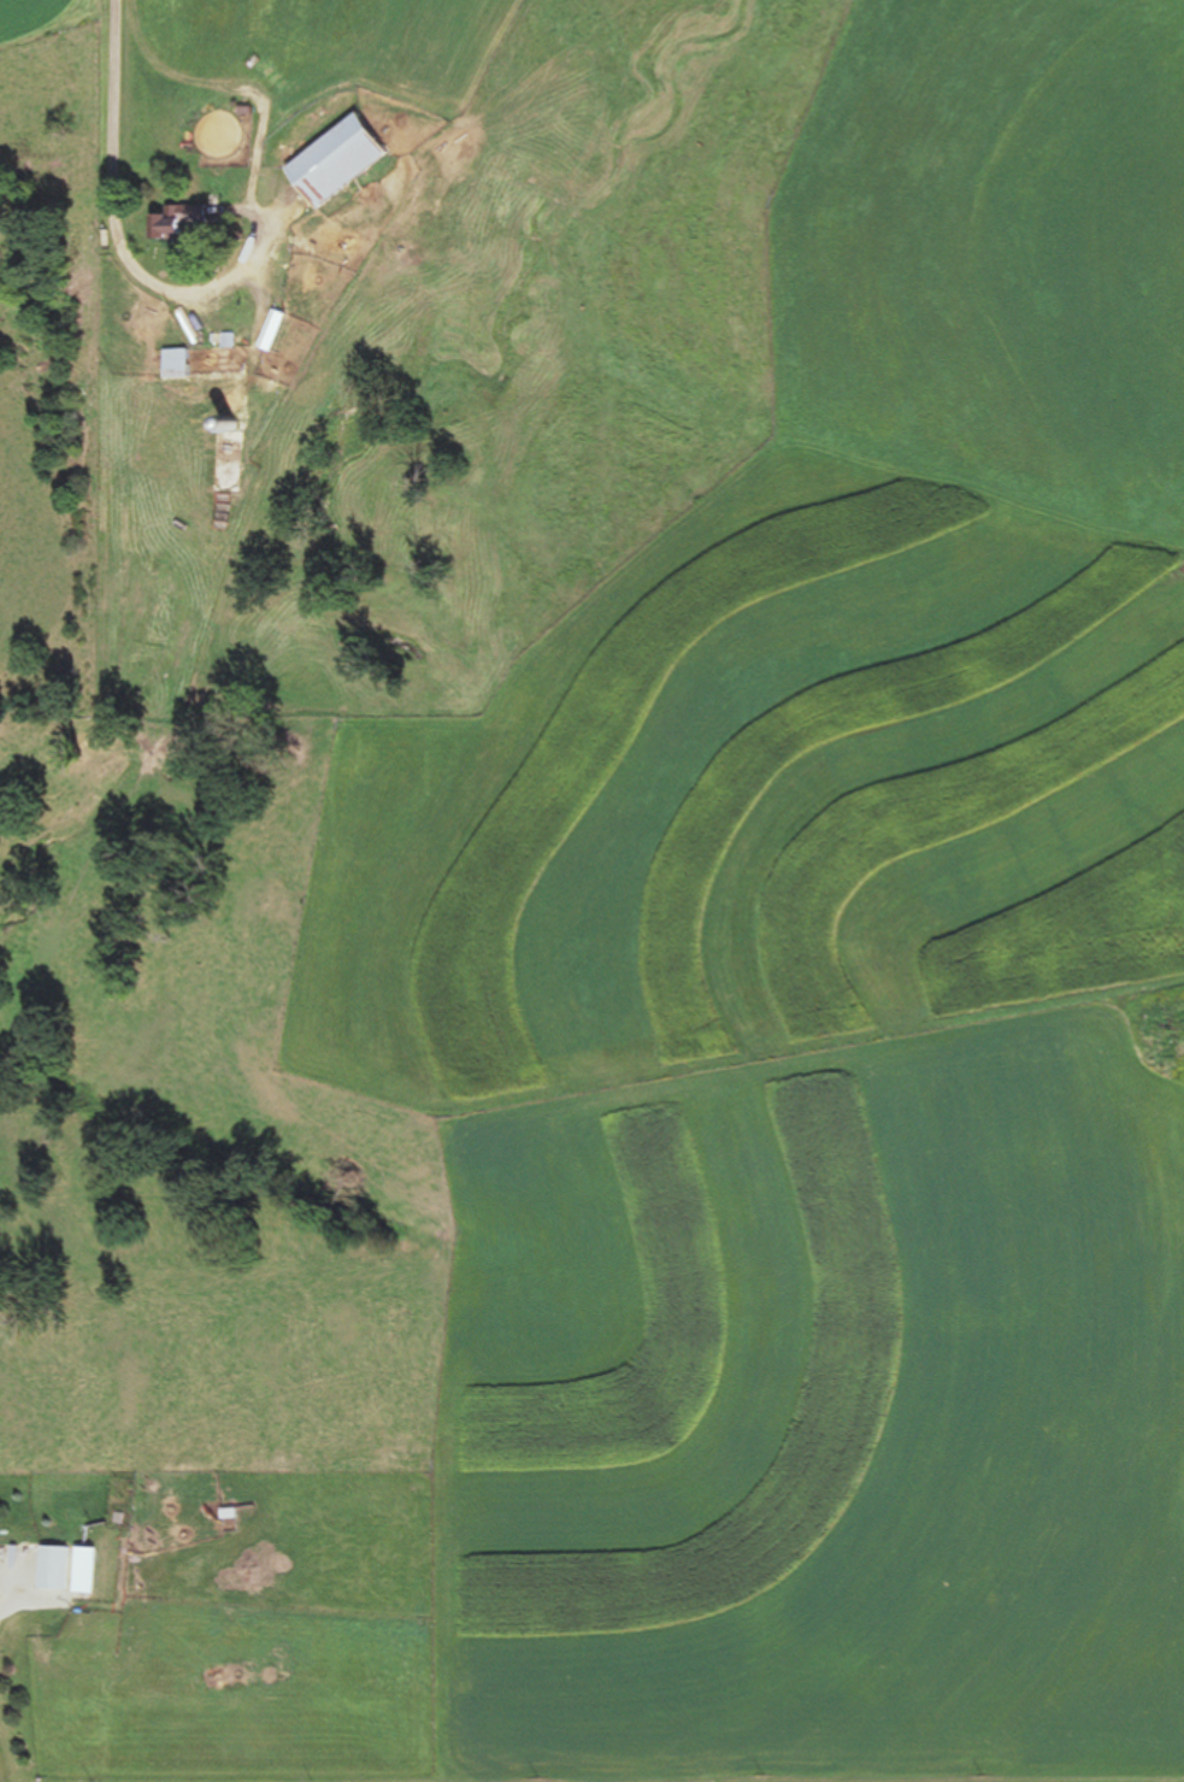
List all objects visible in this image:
road: (149, 120)
building: (343, 160)
building: (187, 219)
building: (181, 364)
building: (57, 1569)
road: (591, 1766)

